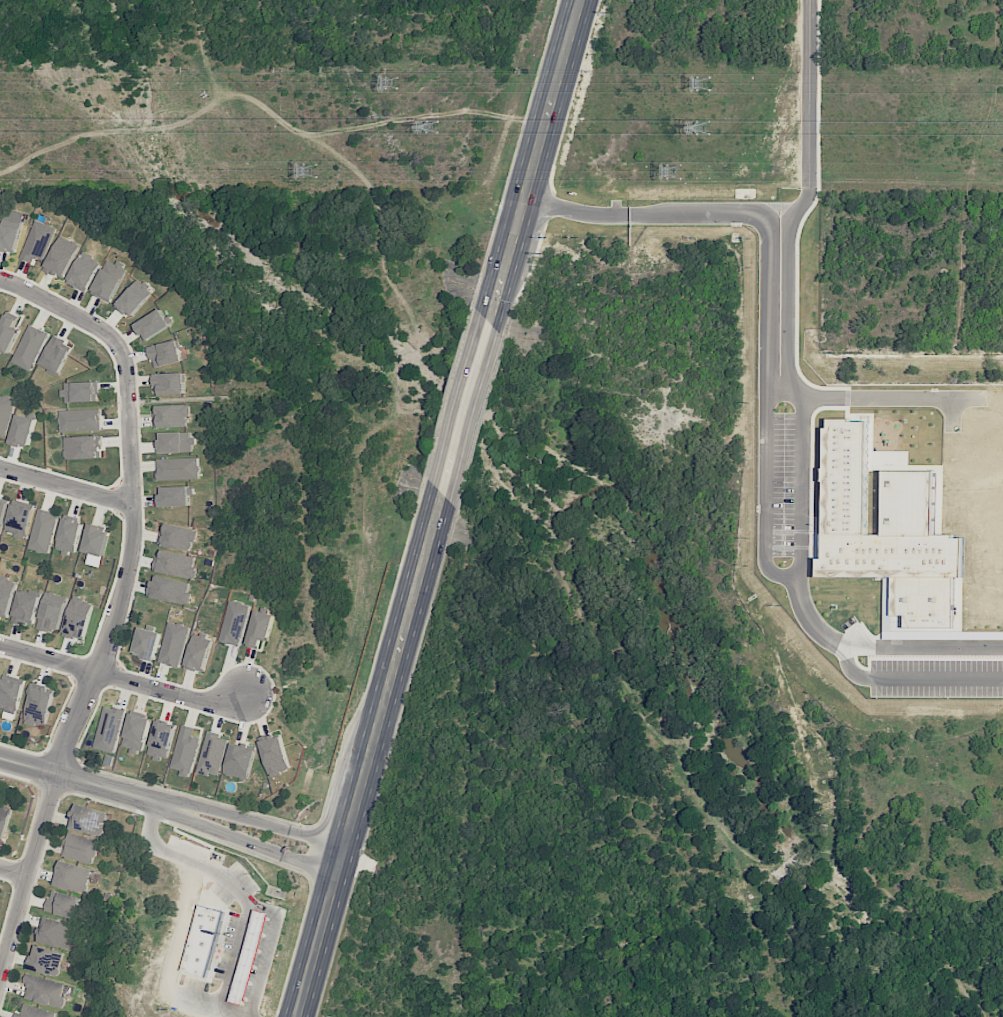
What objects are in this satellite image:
power tower: (392, 83)
power tower: (701, 84)
power tower: (433, 128)
power tower: (701, 128)
road: (536, 161)
power tower: (310, 170)
power tower: (673, 172)
road: (654, 215)
building: (9, 238)
building: (38, 241)
building: (62, 257)
building: (84, 272)
building: (109, 280)
road: (779, 297)
building: (135, 298)
building: (152, 325)
building: (9, 330)
building: (30, 347)
building: (165, 353)
building: (55, 355)
building: (169, 384)
building: (80, 391)
road: (882, 400)
road: (467, 409)
building: (5, 414)
building: (171, 416)
building: (81, 420)
building: (23, 431)
building: (176, 442)
building: (83, 447)
building: (178, 468)
road: (66, 487)
road: (132, 496)
building: (174, 496)
building: (3, 510)
road: (802, 516)
building: (20, 519)
building: (43, 531)
building: (69, 536)
building: (177, 537)
building: (96, 540)
building: (176, 564)
building: (170, 589)
building: (7, 595)
building: (925, 601)
building: (26, 608)
building: (52, 612)
building: (78, 618)
building: (235, 623)
building: (260, 628)
building: (147, 644)
building: (174, 644)
road: (924, 646)
building: (199, 652)
road: (915, 678)
road: (124, 679)
building: (11, 693)
building: (39, 706)
building: (110, 729)
building: (137, 733)
building: (162, 740)
building: (186, 751)
building: (275, 754)
building: (212, 755)
road: (369, 756)
building: (240, 761)
road: (83, 782)
building: (4, 819)
building: (89, 820)
road: (256, 821)
road: (249, 844)
building: (81, 848)
road: (12, 868)
road: (25, 871)
building: (72, 876)
road: (241, 892)
building: (61, 903)
building: (56, 933)
building: (202, 940)
road: (265, 950)
building: (252, 952)
gas station: (250, 955)
building: (45, 960)
building: (44, 991)
building: (35, 1012)

